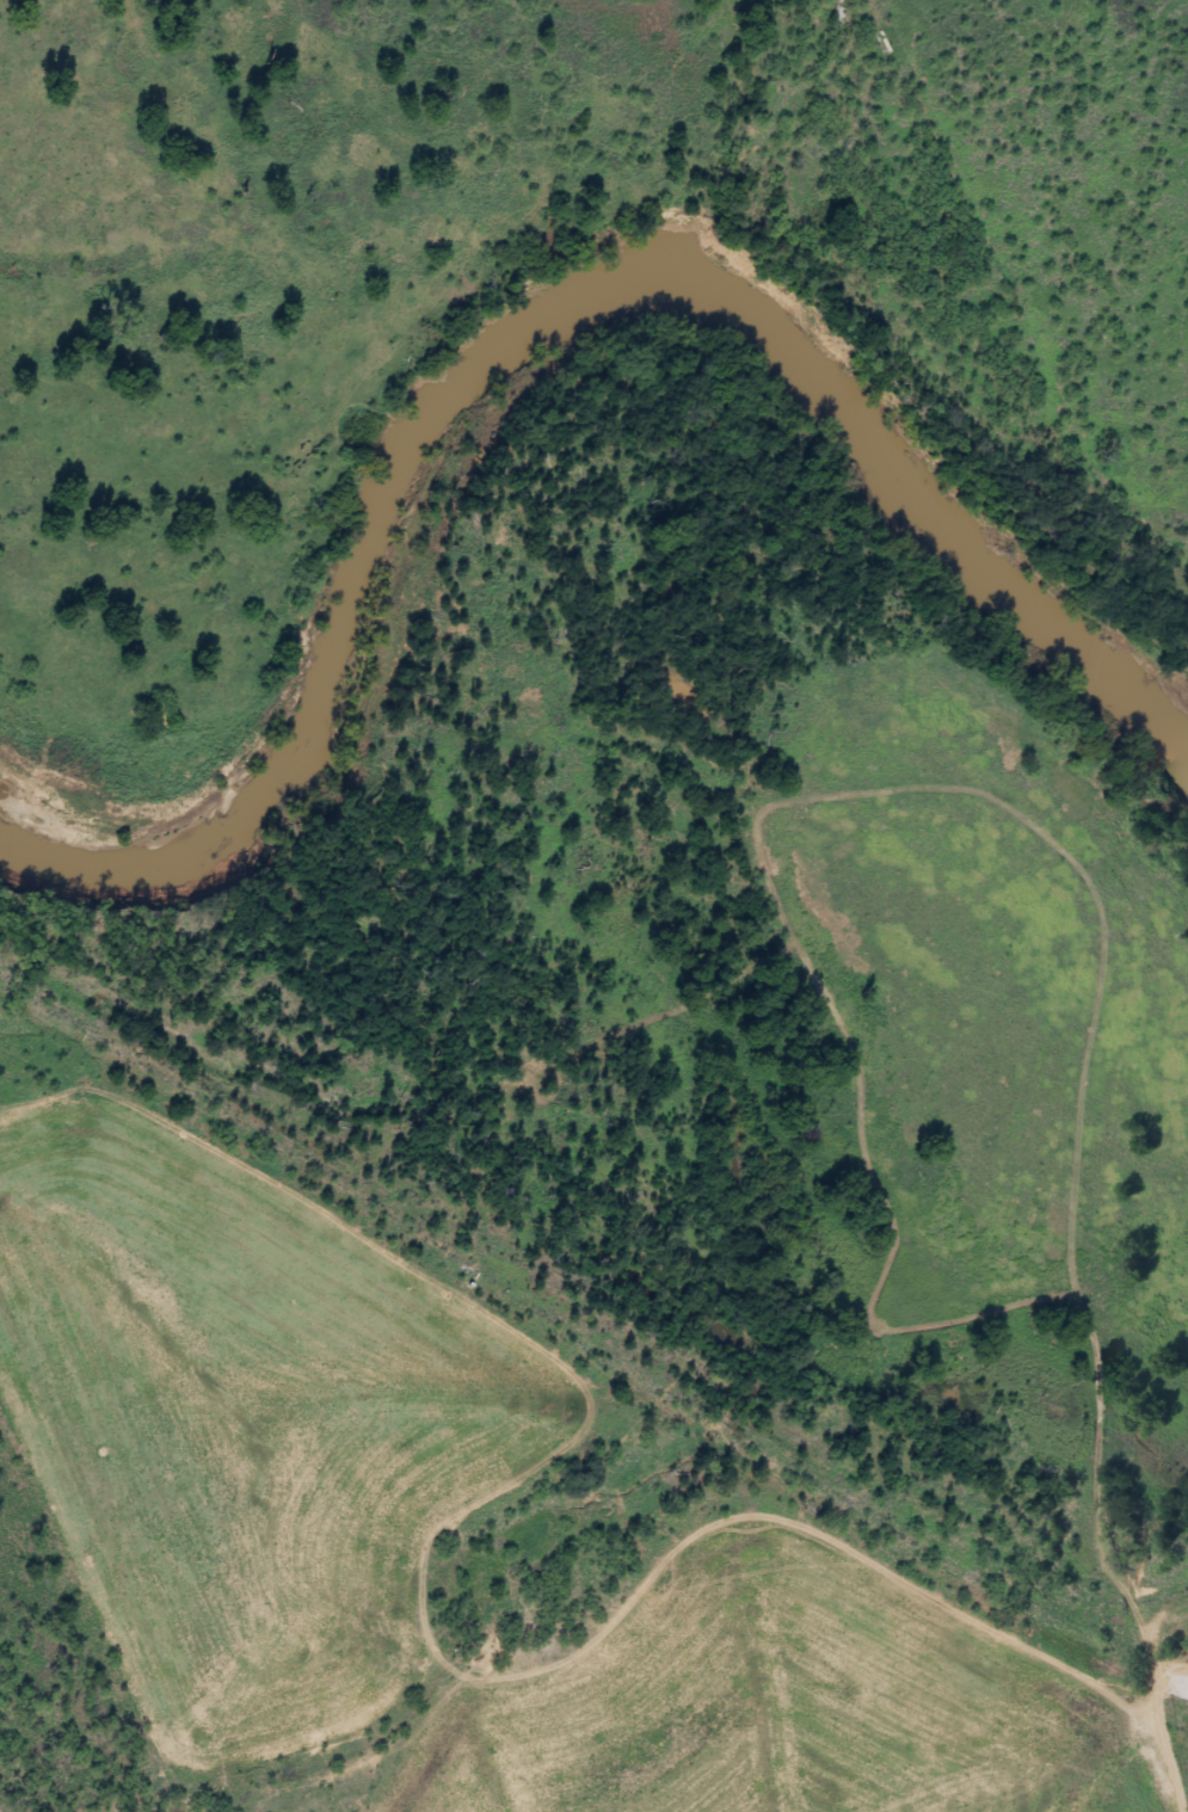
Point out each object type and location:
river: (546, 323)
railway: (586, 1324)

